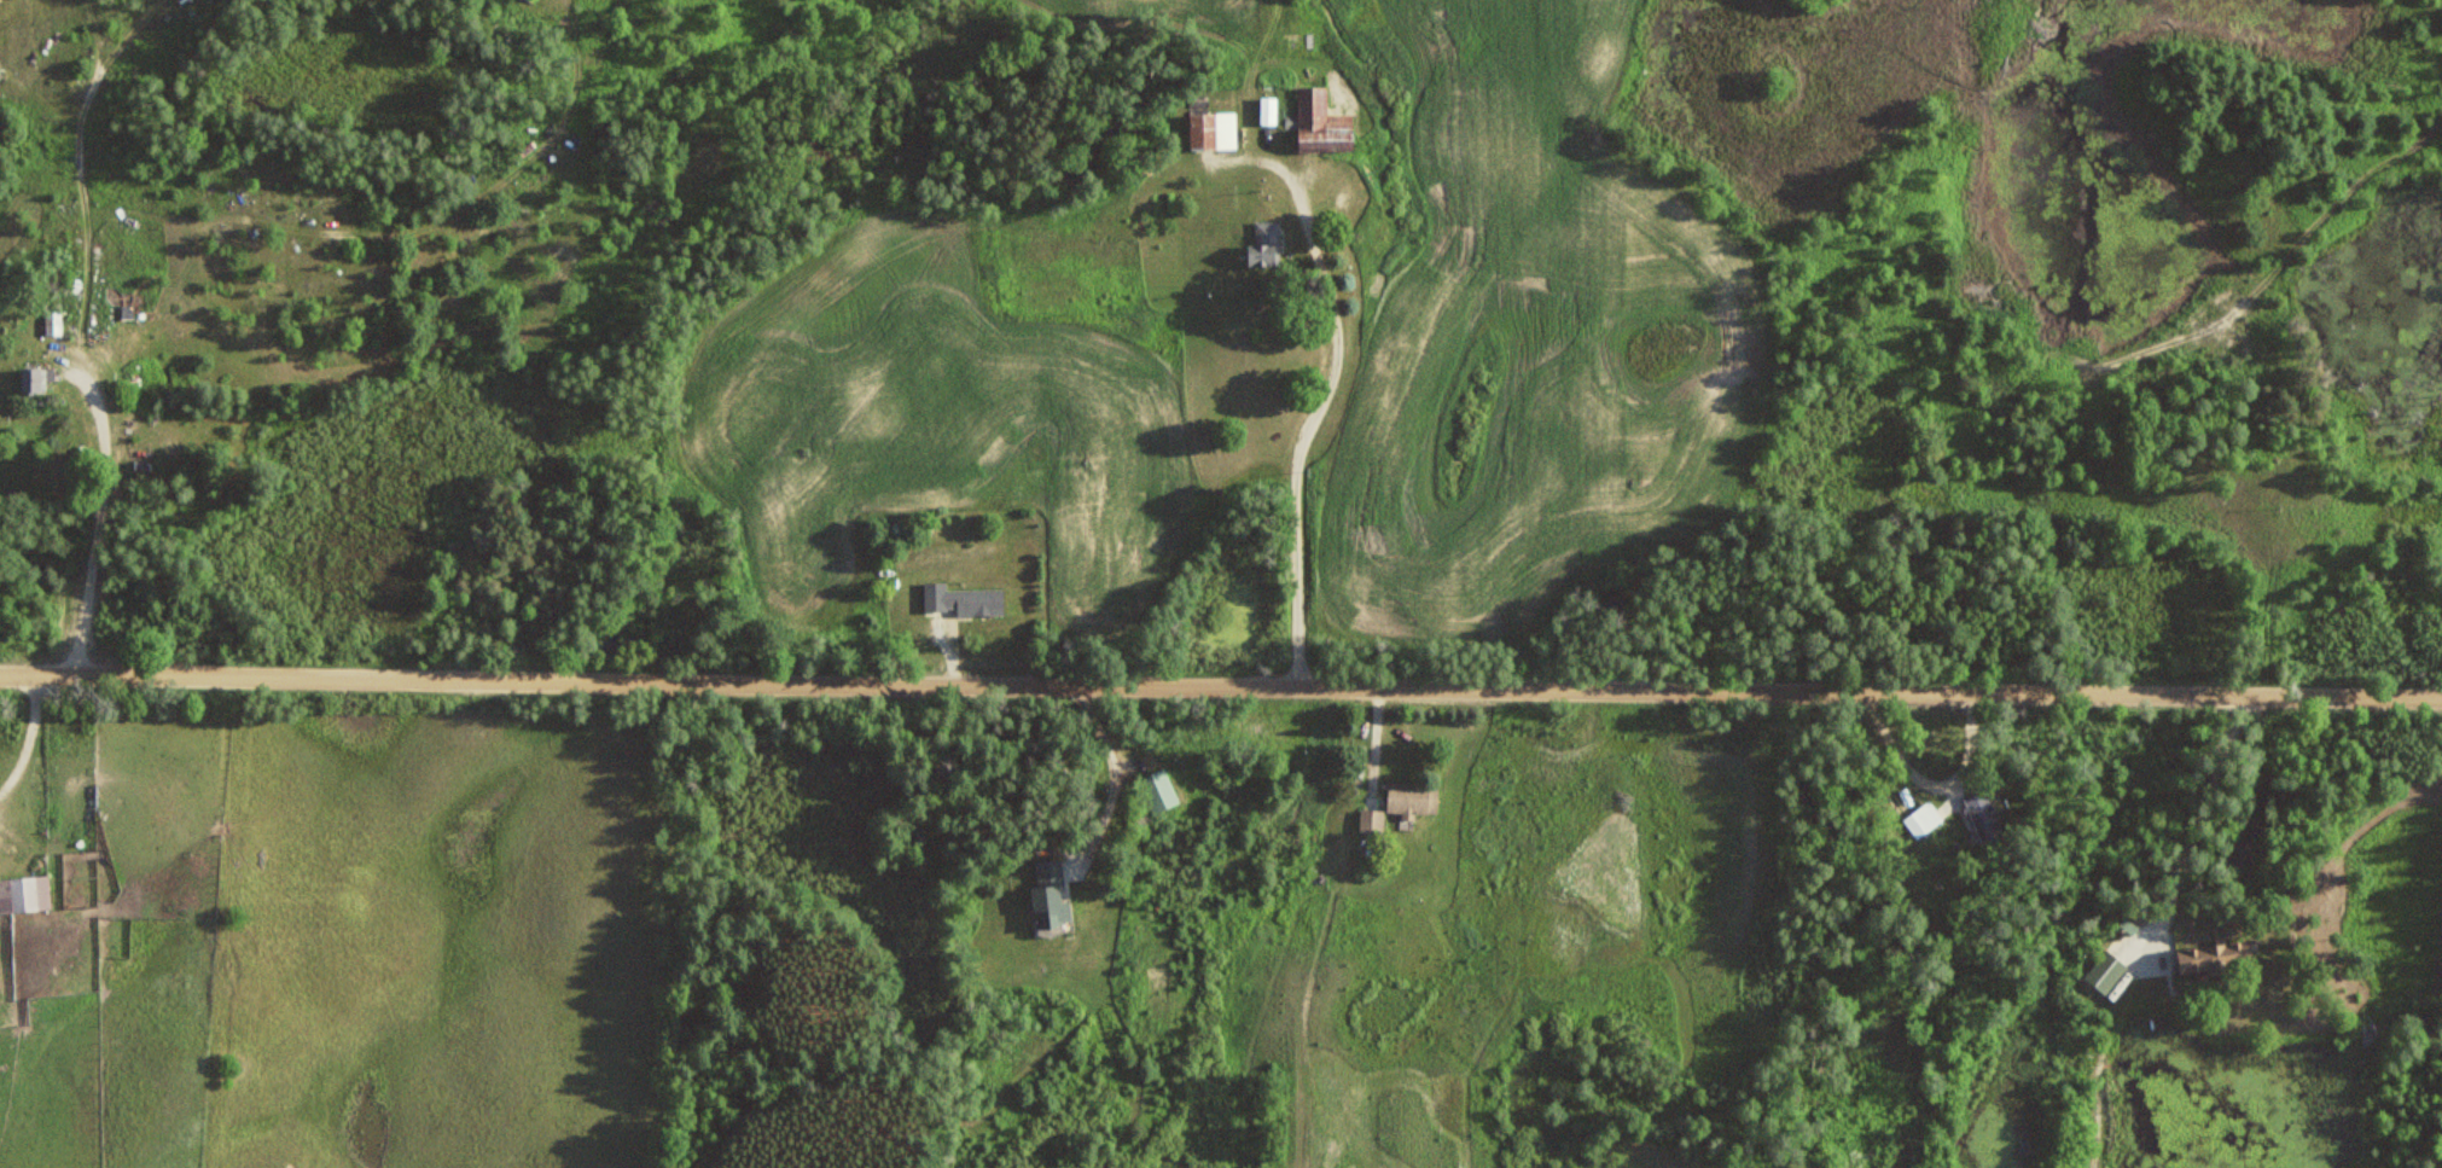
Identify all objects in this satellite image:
building: (1322, 123)
building: (1213, 130)
building: (1266, 245)
building: (53, 324)
building: (33, 380)
building: (963, 598)
road: (1221, 684)
building: (1158, 790)
building: (1413, 797)
building: (1984, 815)
building: (1925, 817)
building: (1372, 820)
building: (24, 894)
building: (1050, 894)
building: (2215, 955)
building: (2106, 970)

